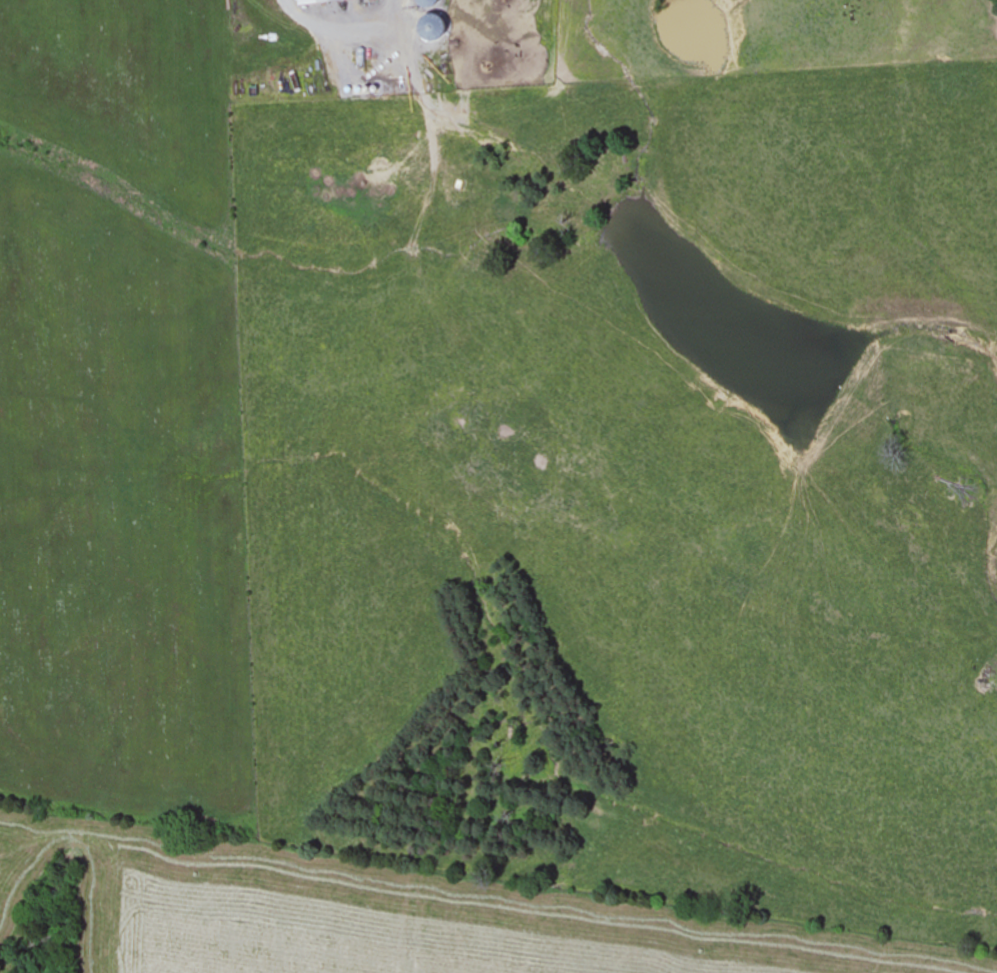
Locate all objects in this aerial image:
building: (430, 2)

